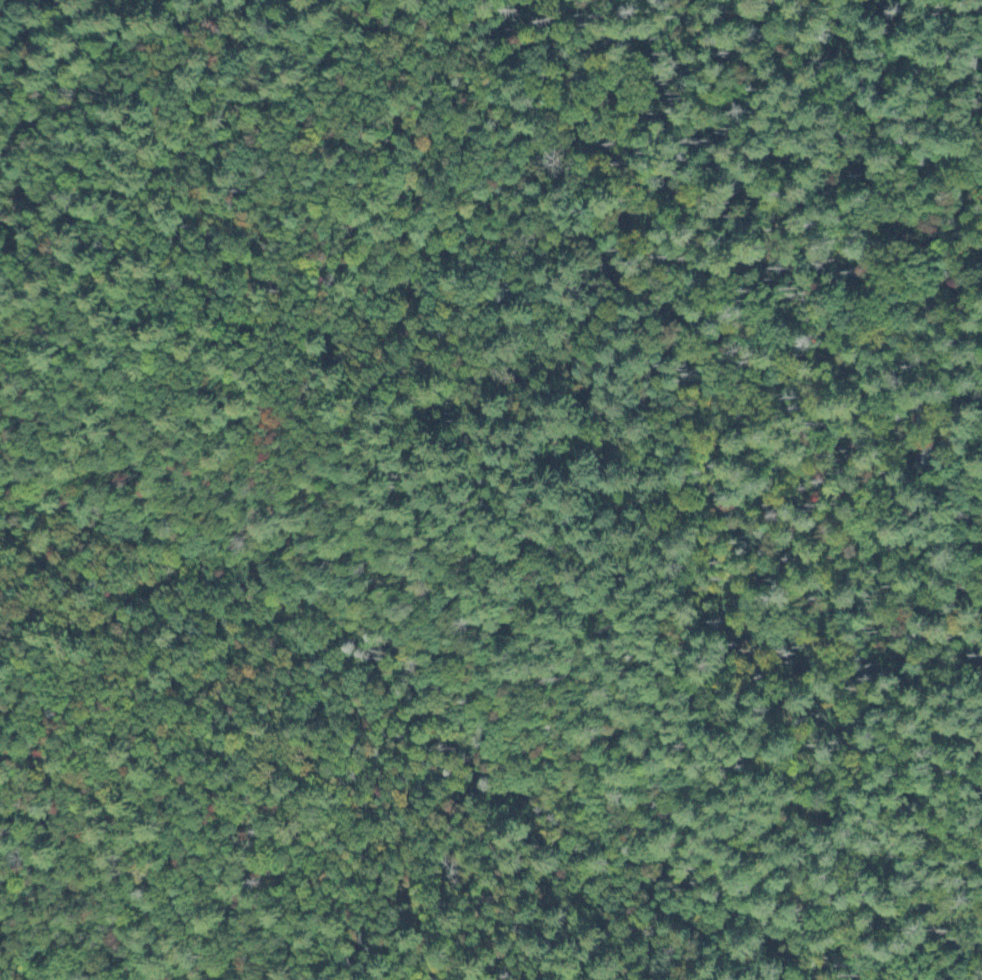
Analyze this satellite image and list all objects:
road: (847, 48)
road: (44, 683)

